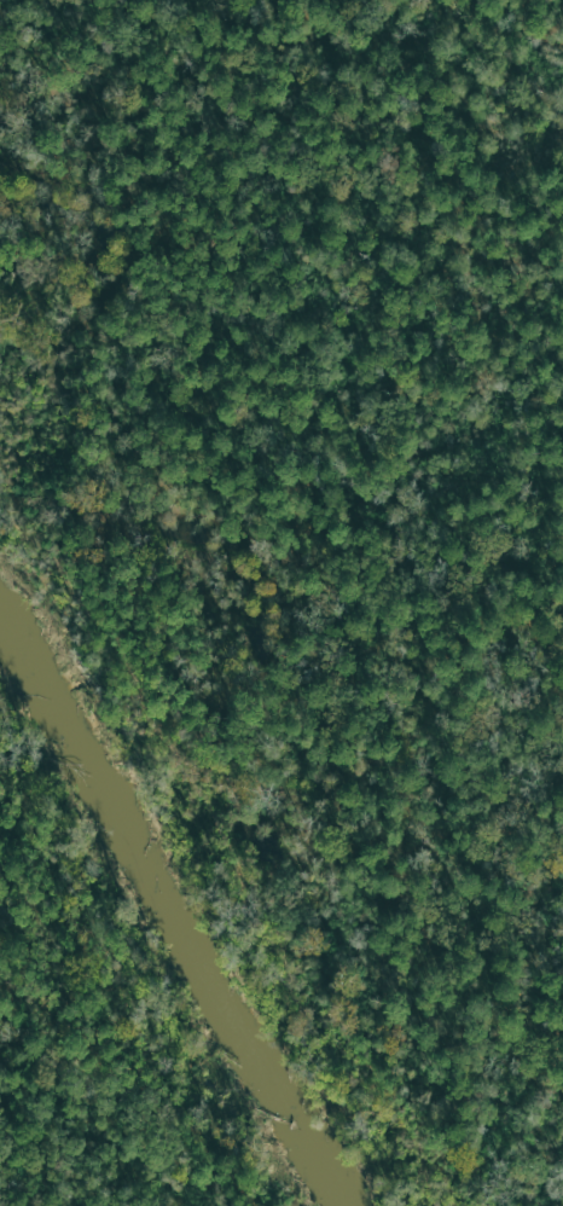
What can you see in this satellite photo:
river: (172, 924)

